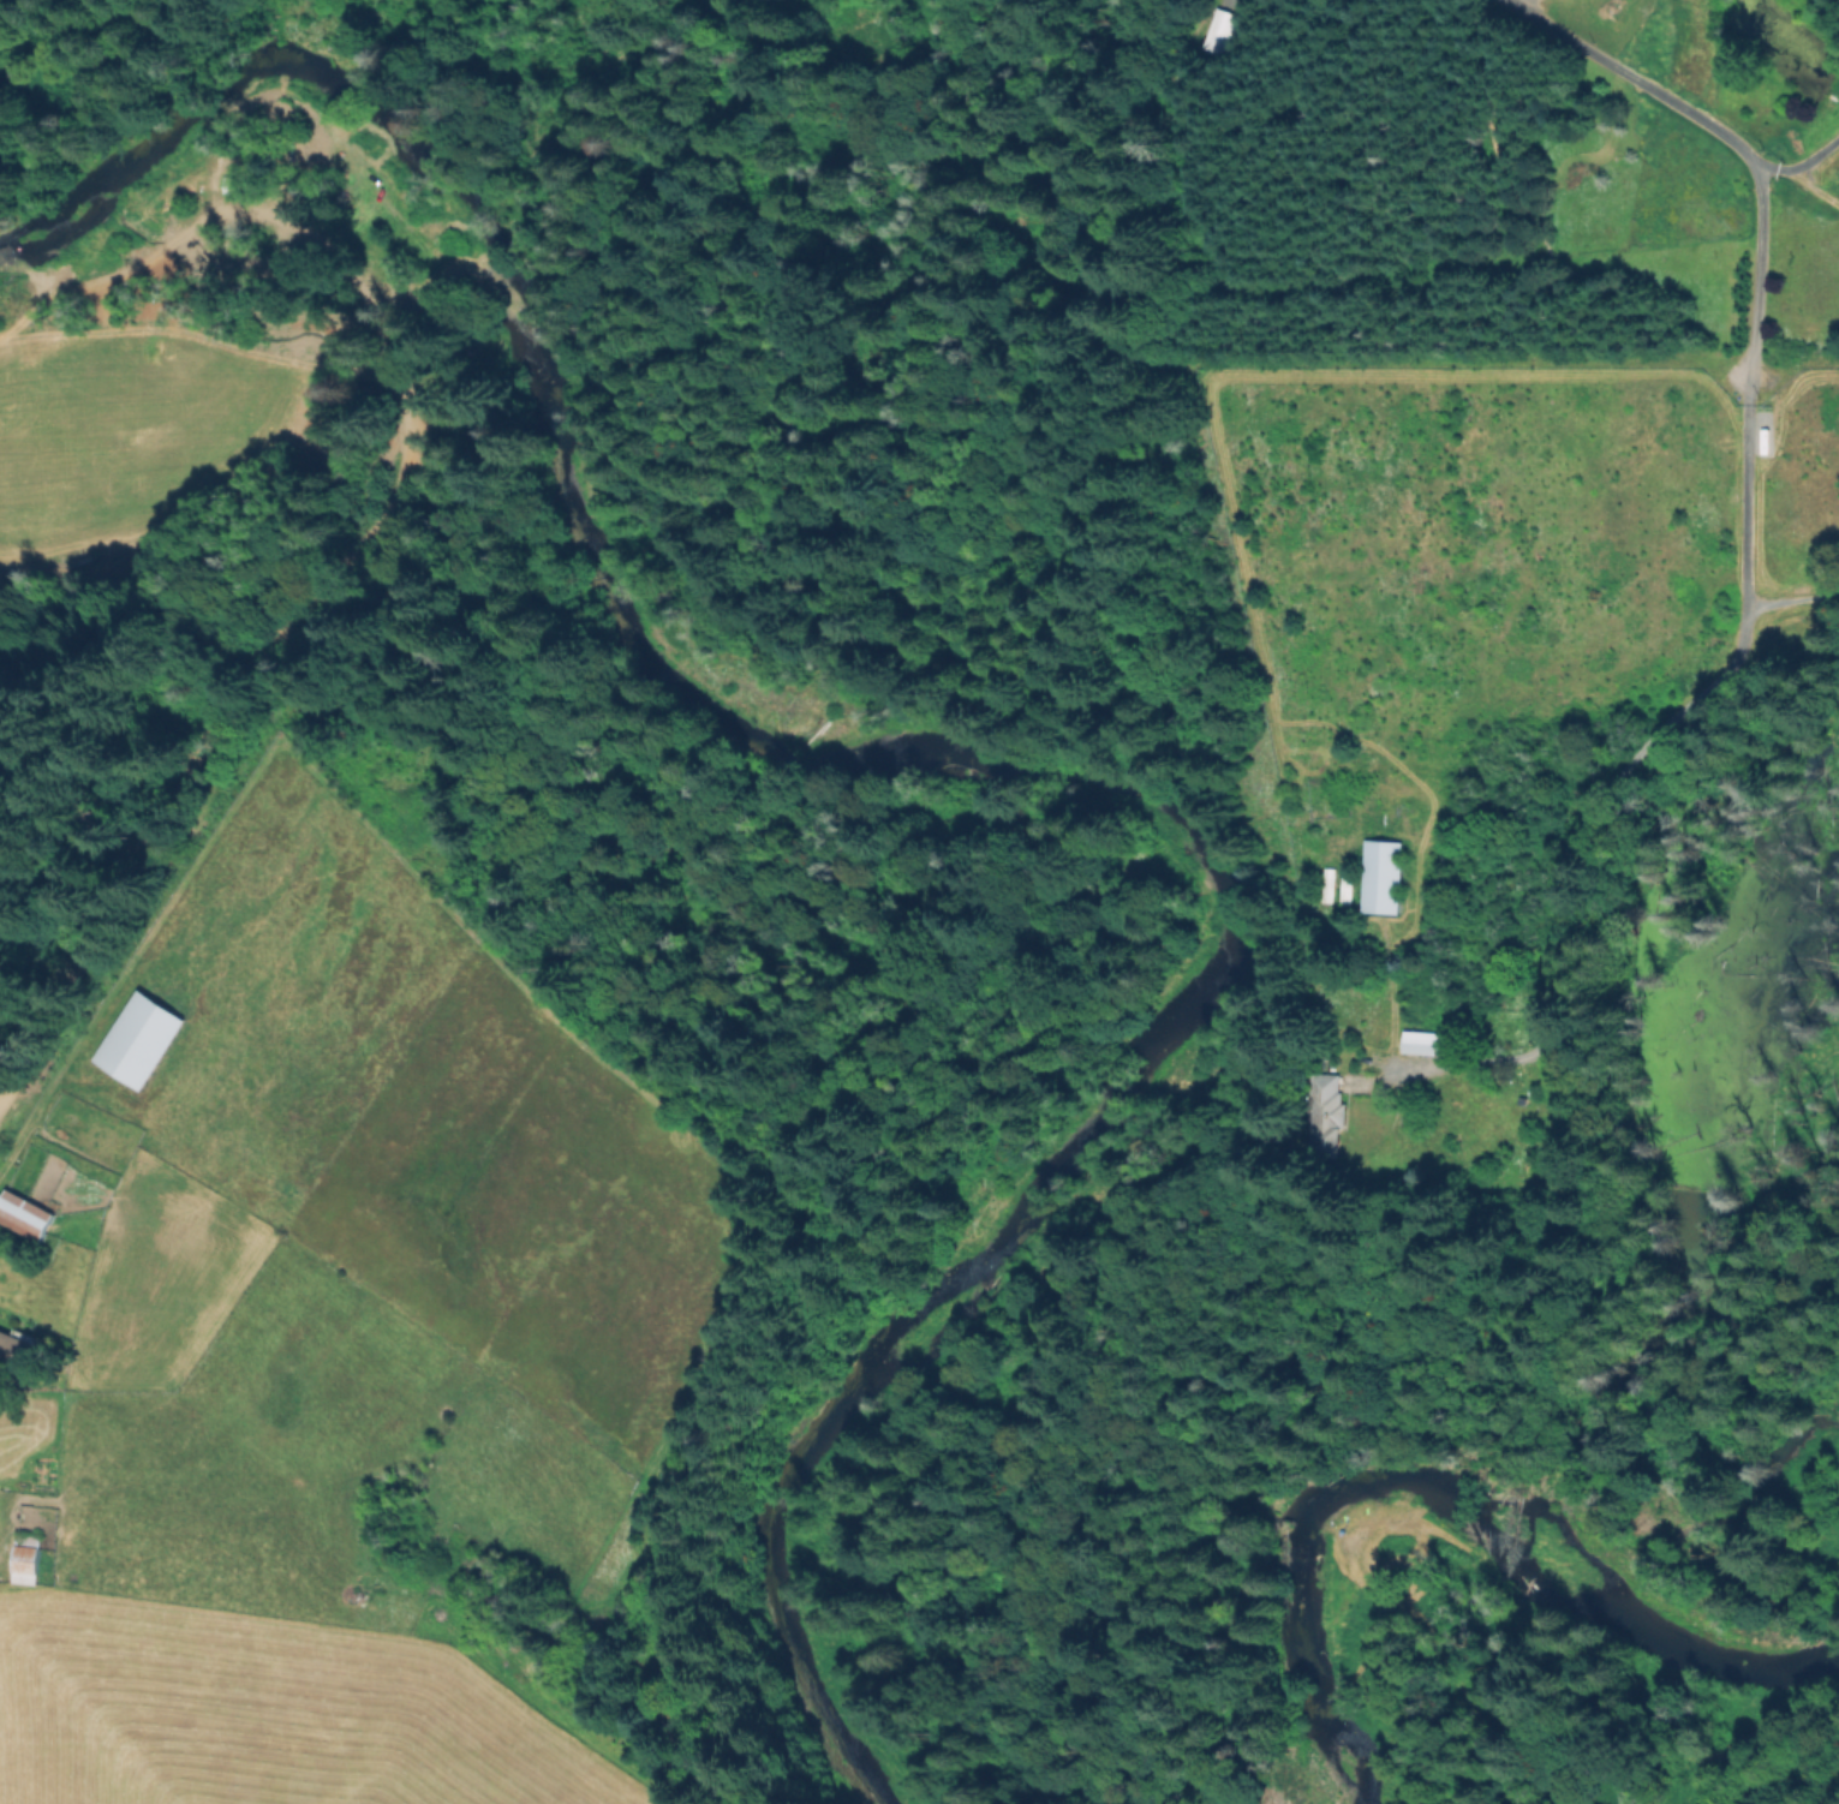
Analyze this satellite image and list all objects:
building: (1220, 30)
road: (1811, 157)
road: (1798, 183)
building: (234, 185)
road: (1750, 400)
building: (1377, 879)
building: (1342, 890)
building: (133, 1043)
building: (1423, 1044)
road: (1553, 1063)
building: (1324, 1111)
building: (24, 1215)
crop: (327, 1339)
building: (16, 1348)
building: (29, 1559)
building: (132, 1563)

